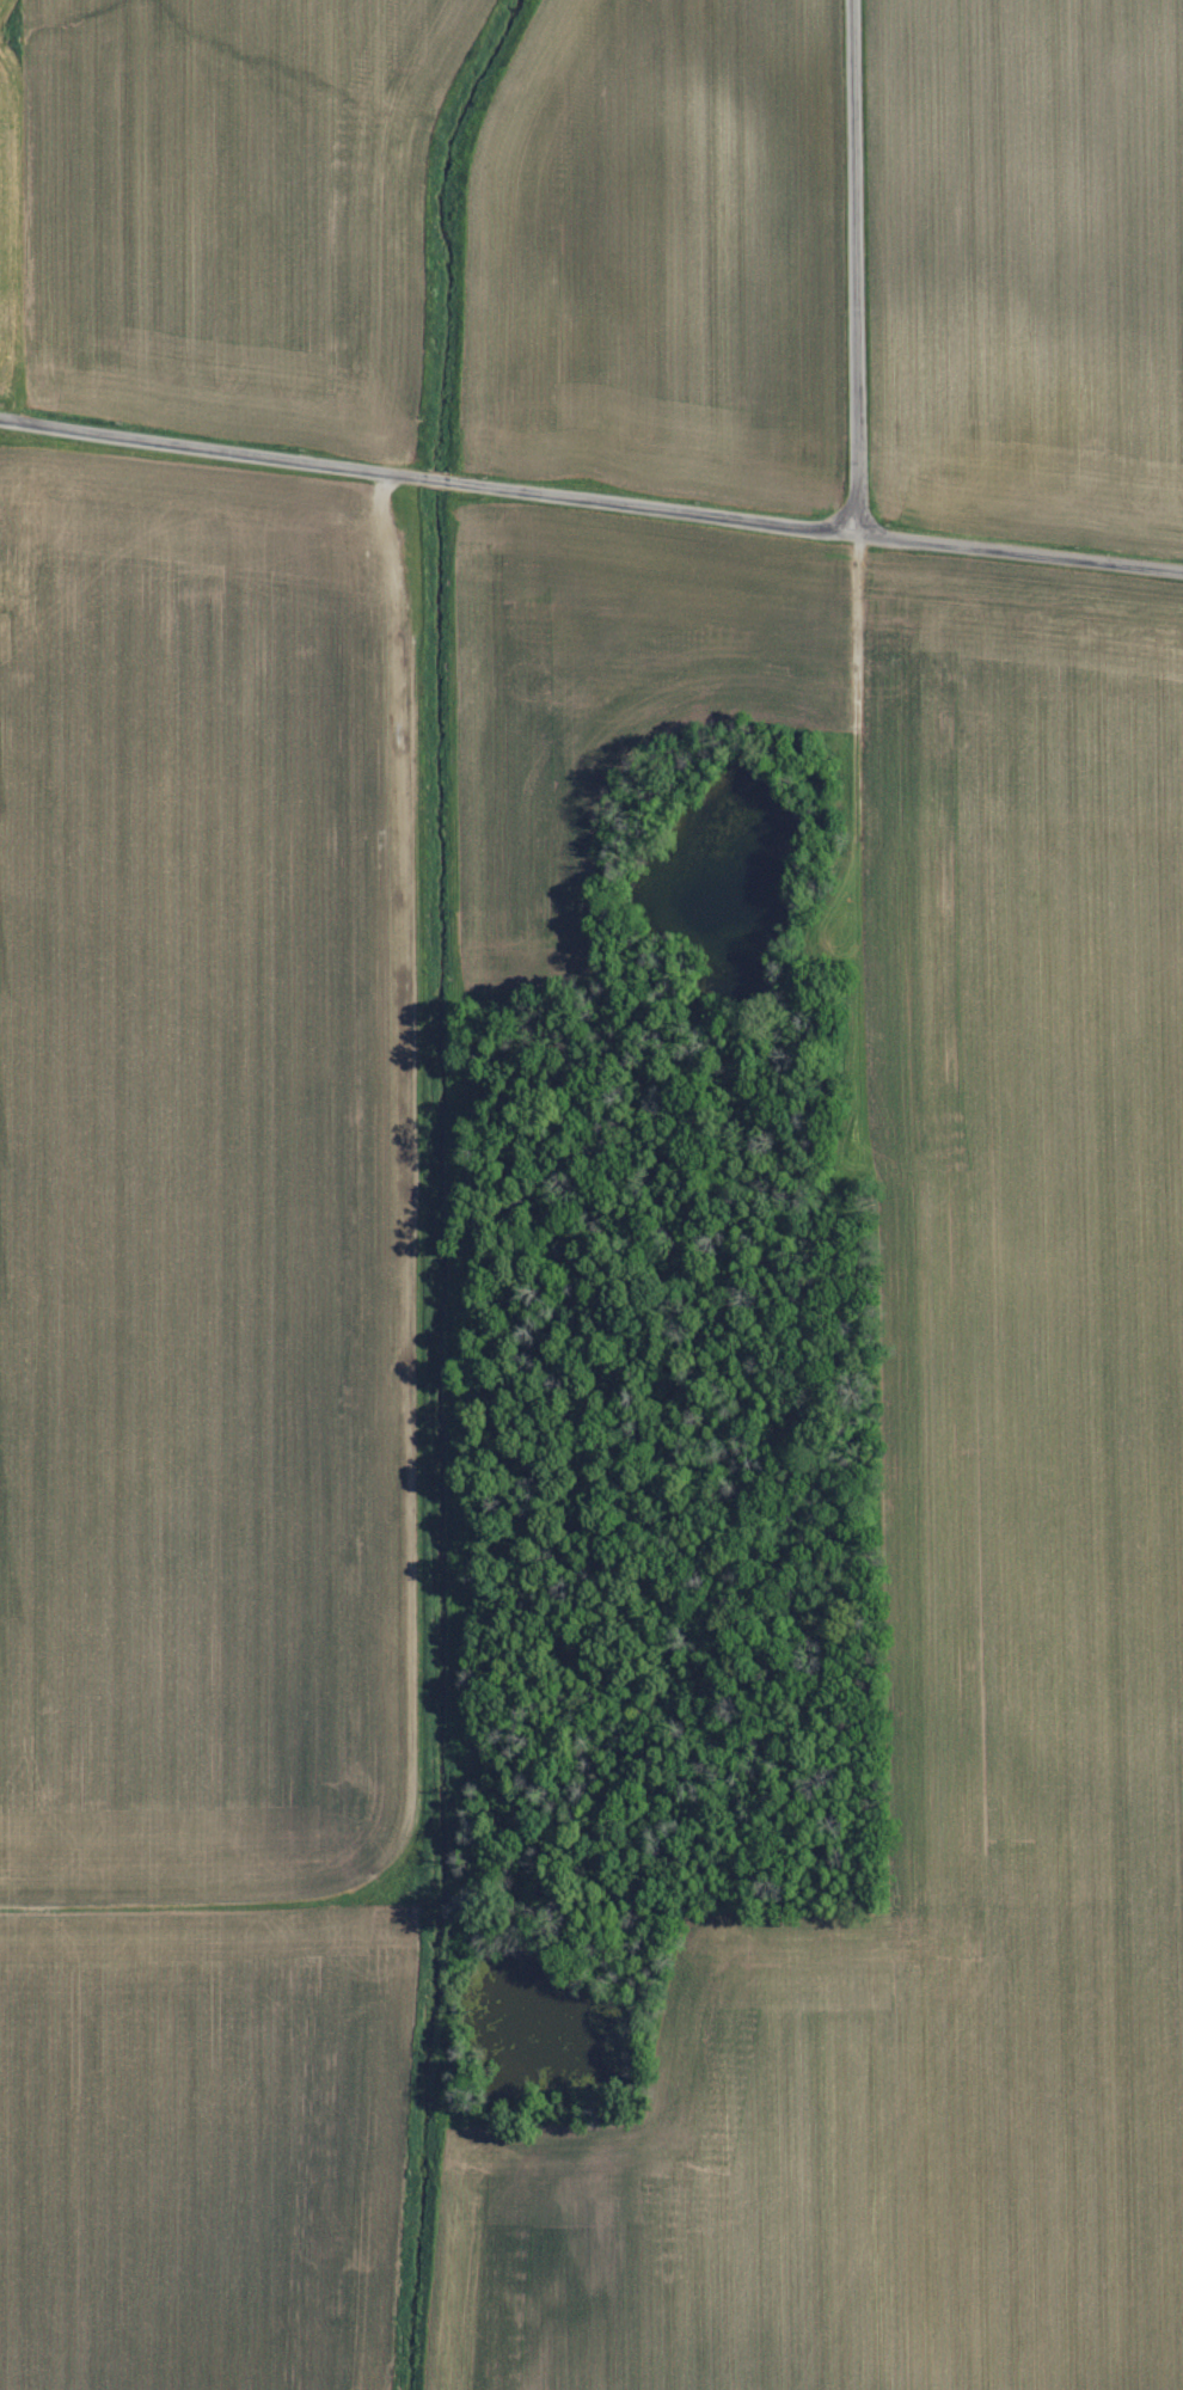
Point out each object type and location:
road: (856, 265)
road: (590, 497)

